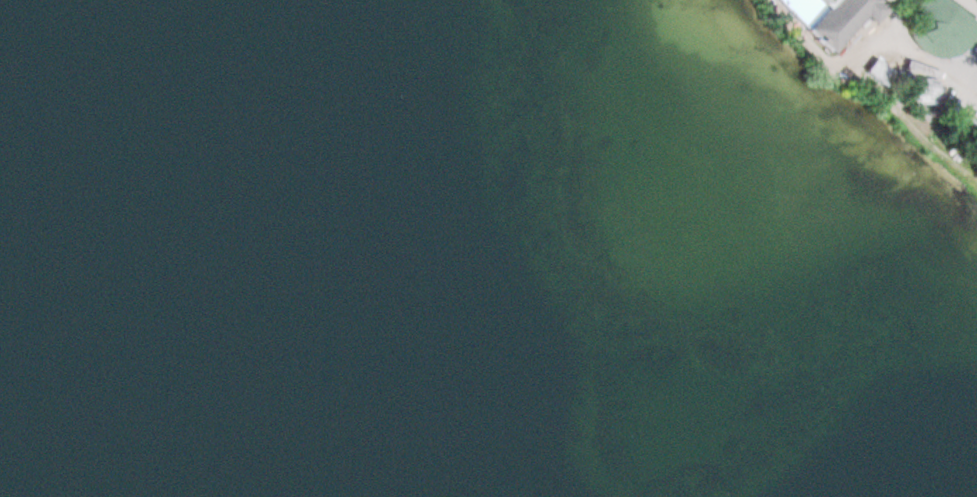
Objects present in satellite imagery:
building: (825, 16)
building: (939, 26)
road: (966, 62)
building: (875, 70)
building: (923, 87)

